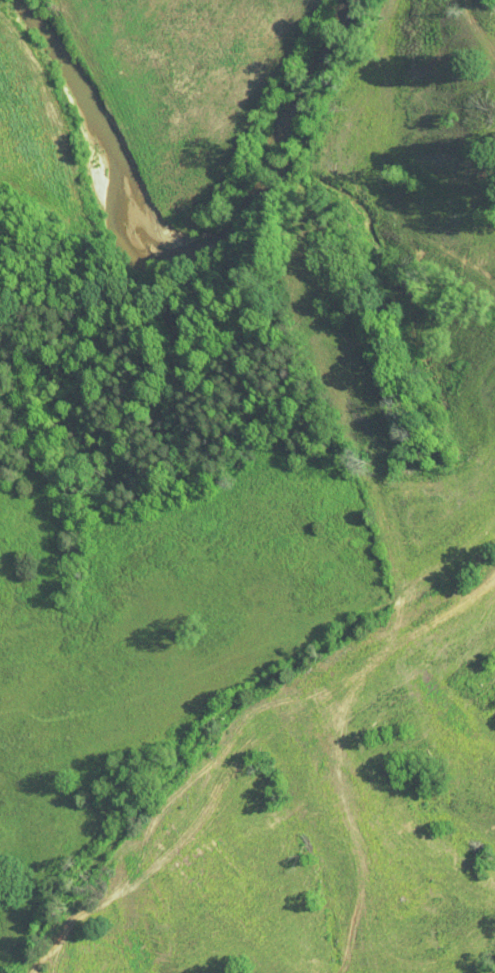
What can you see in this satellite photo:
road: (217, 716)

